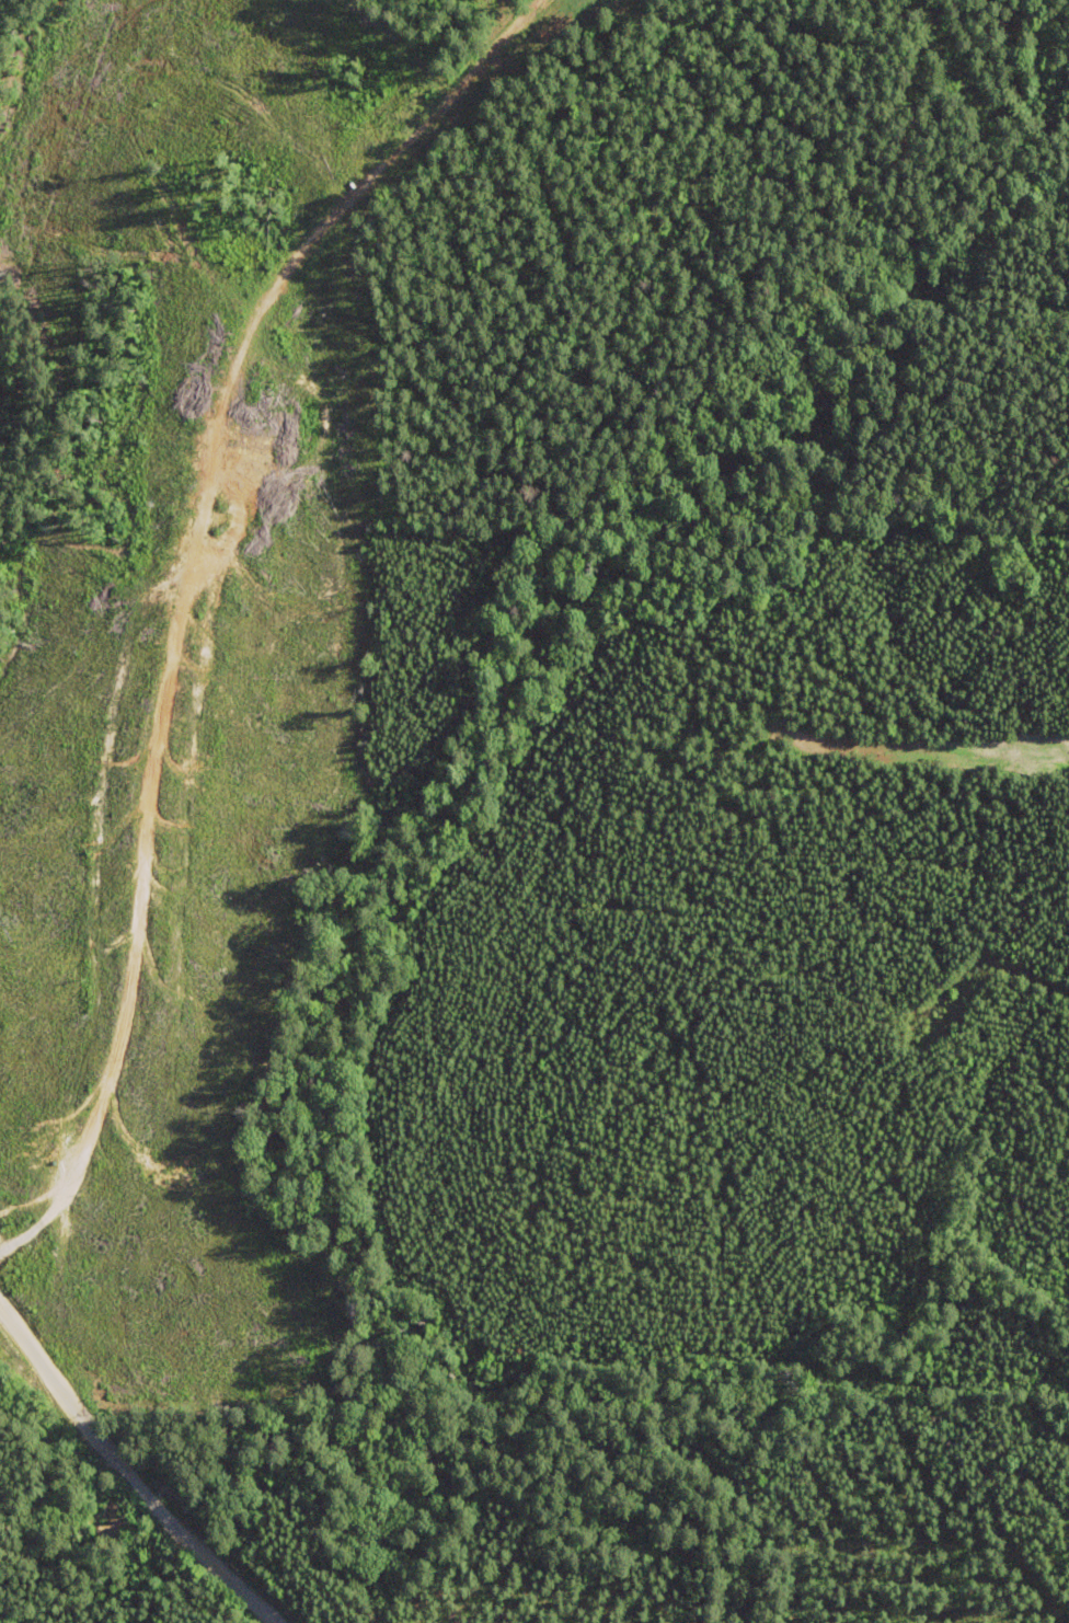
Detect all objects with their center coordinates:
road: (130, 1458)

